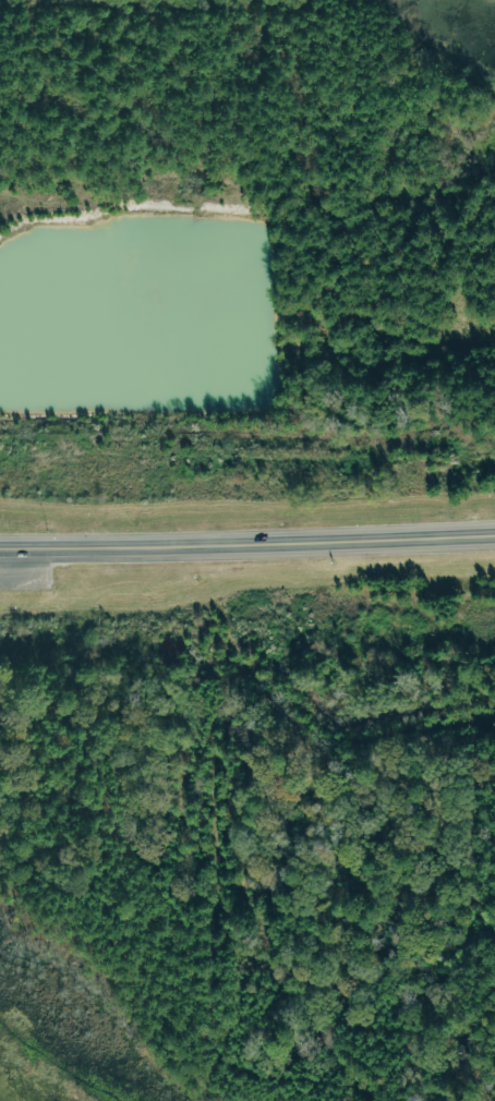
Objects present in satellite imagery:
road: (400, 342)
road: (247, 542)
road: (117, 652)

